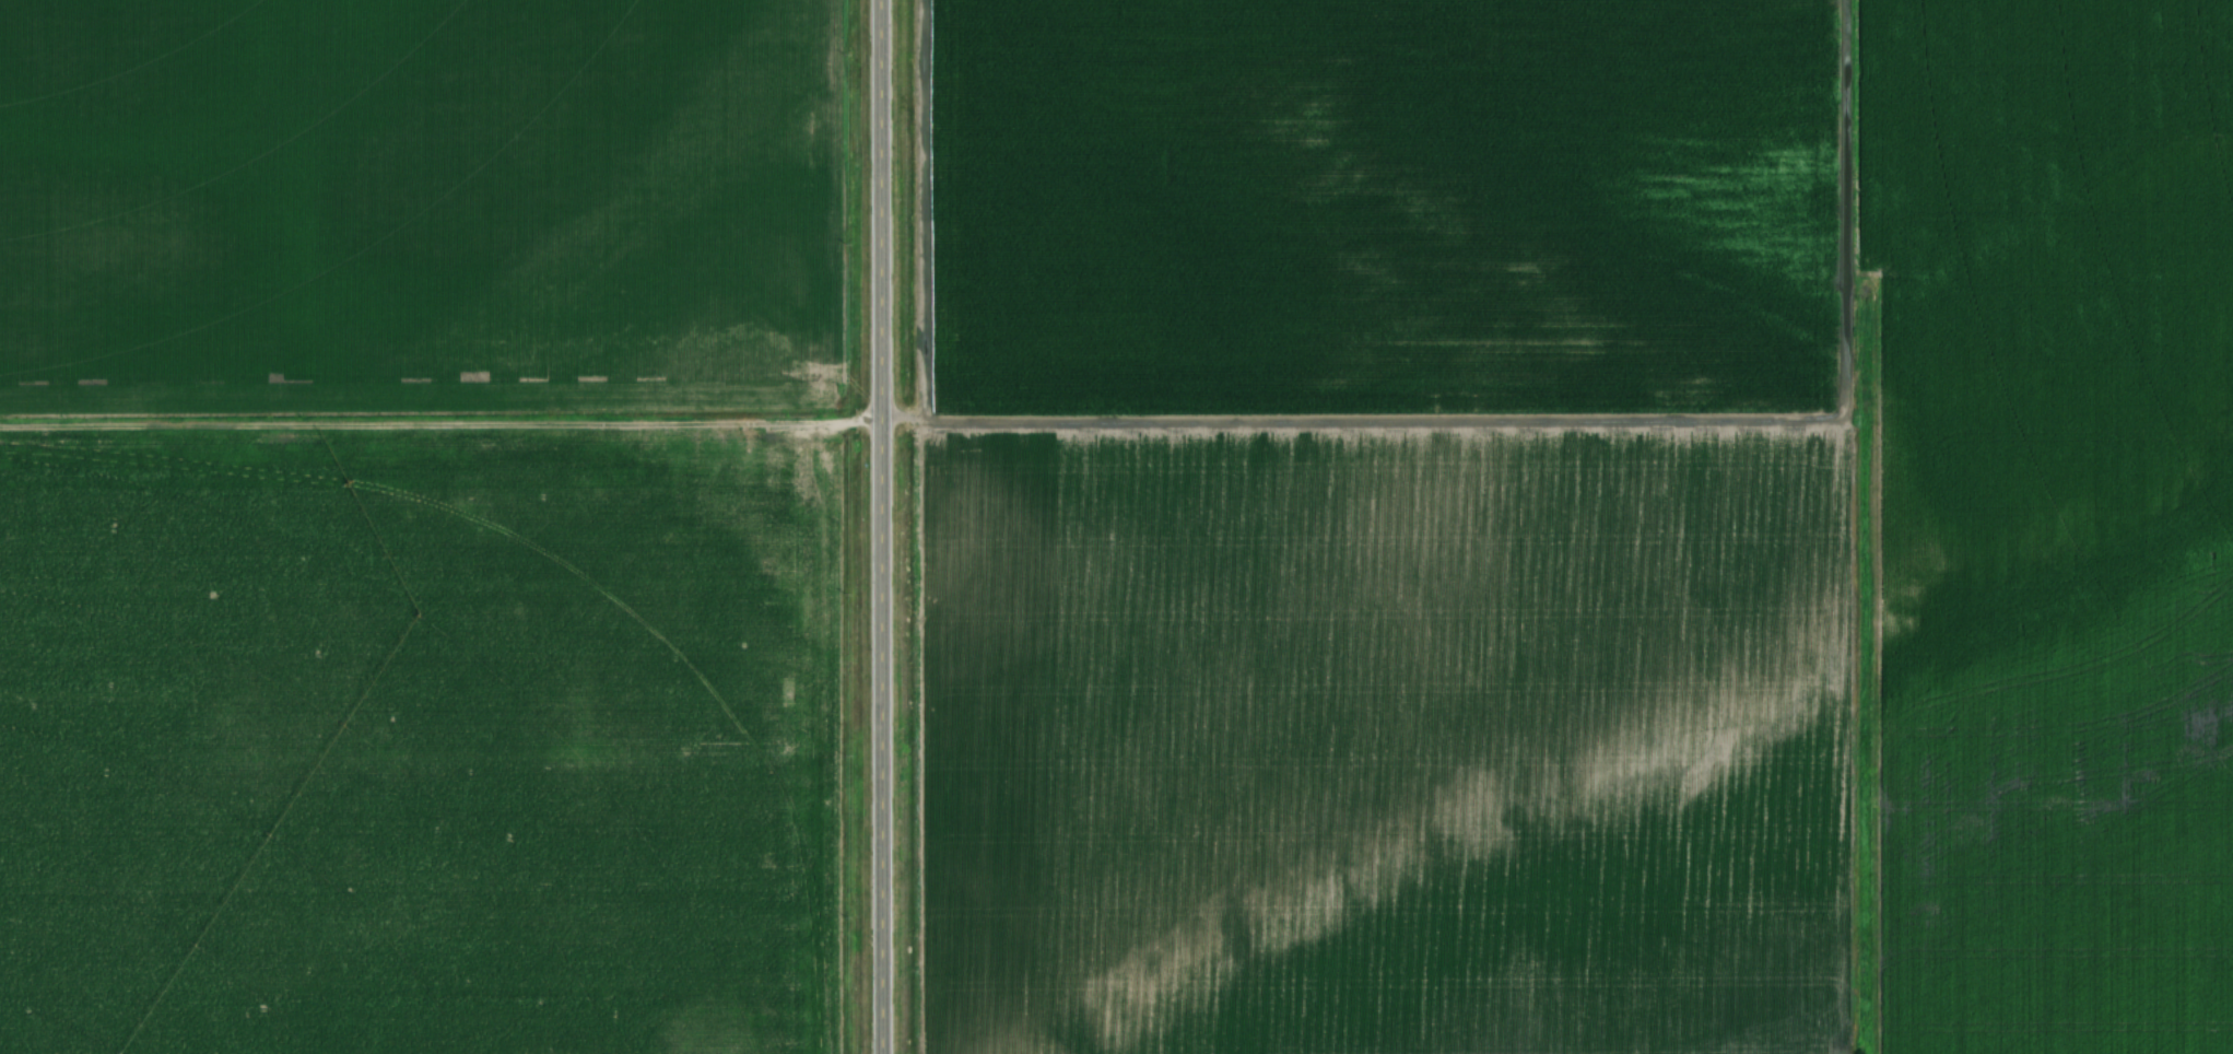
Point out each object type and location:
road: (879, 527)

